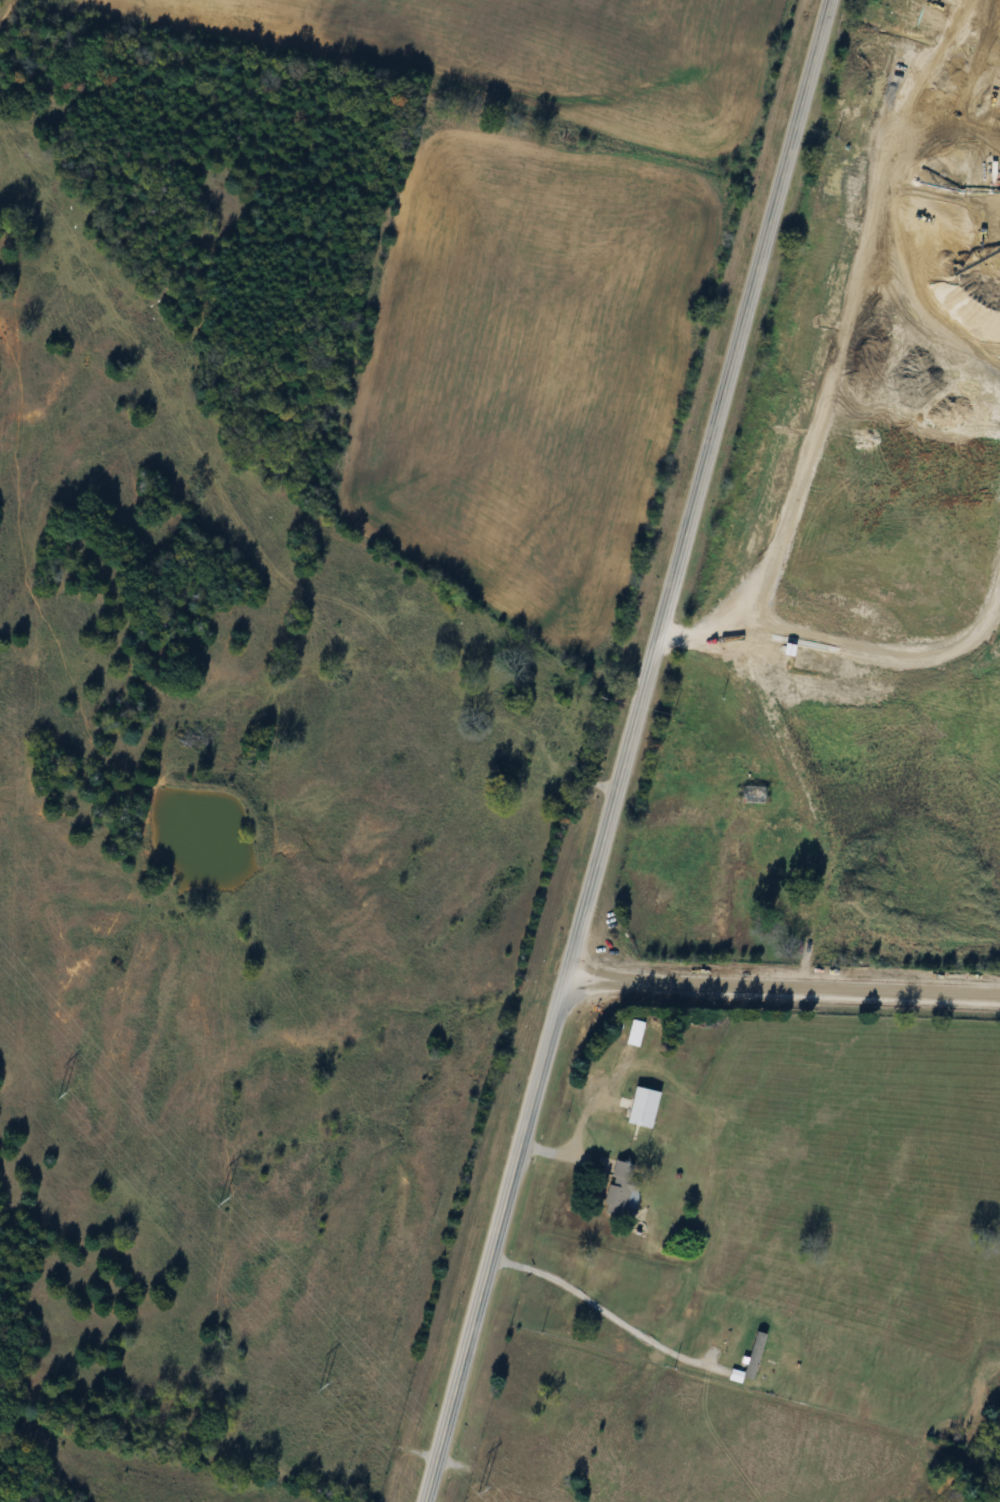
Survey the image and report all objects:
road: (696, 488)
road: (783, 985)
building: (631, 1033)
power tower: (61, 1093)
building: (638, 1107)
building: (621, 1196)
power tower: (219, 1203)
road: (495, 1239)
road: (604, 1310)
power tower: (320, 1389)
power tower: (481, 1491)

